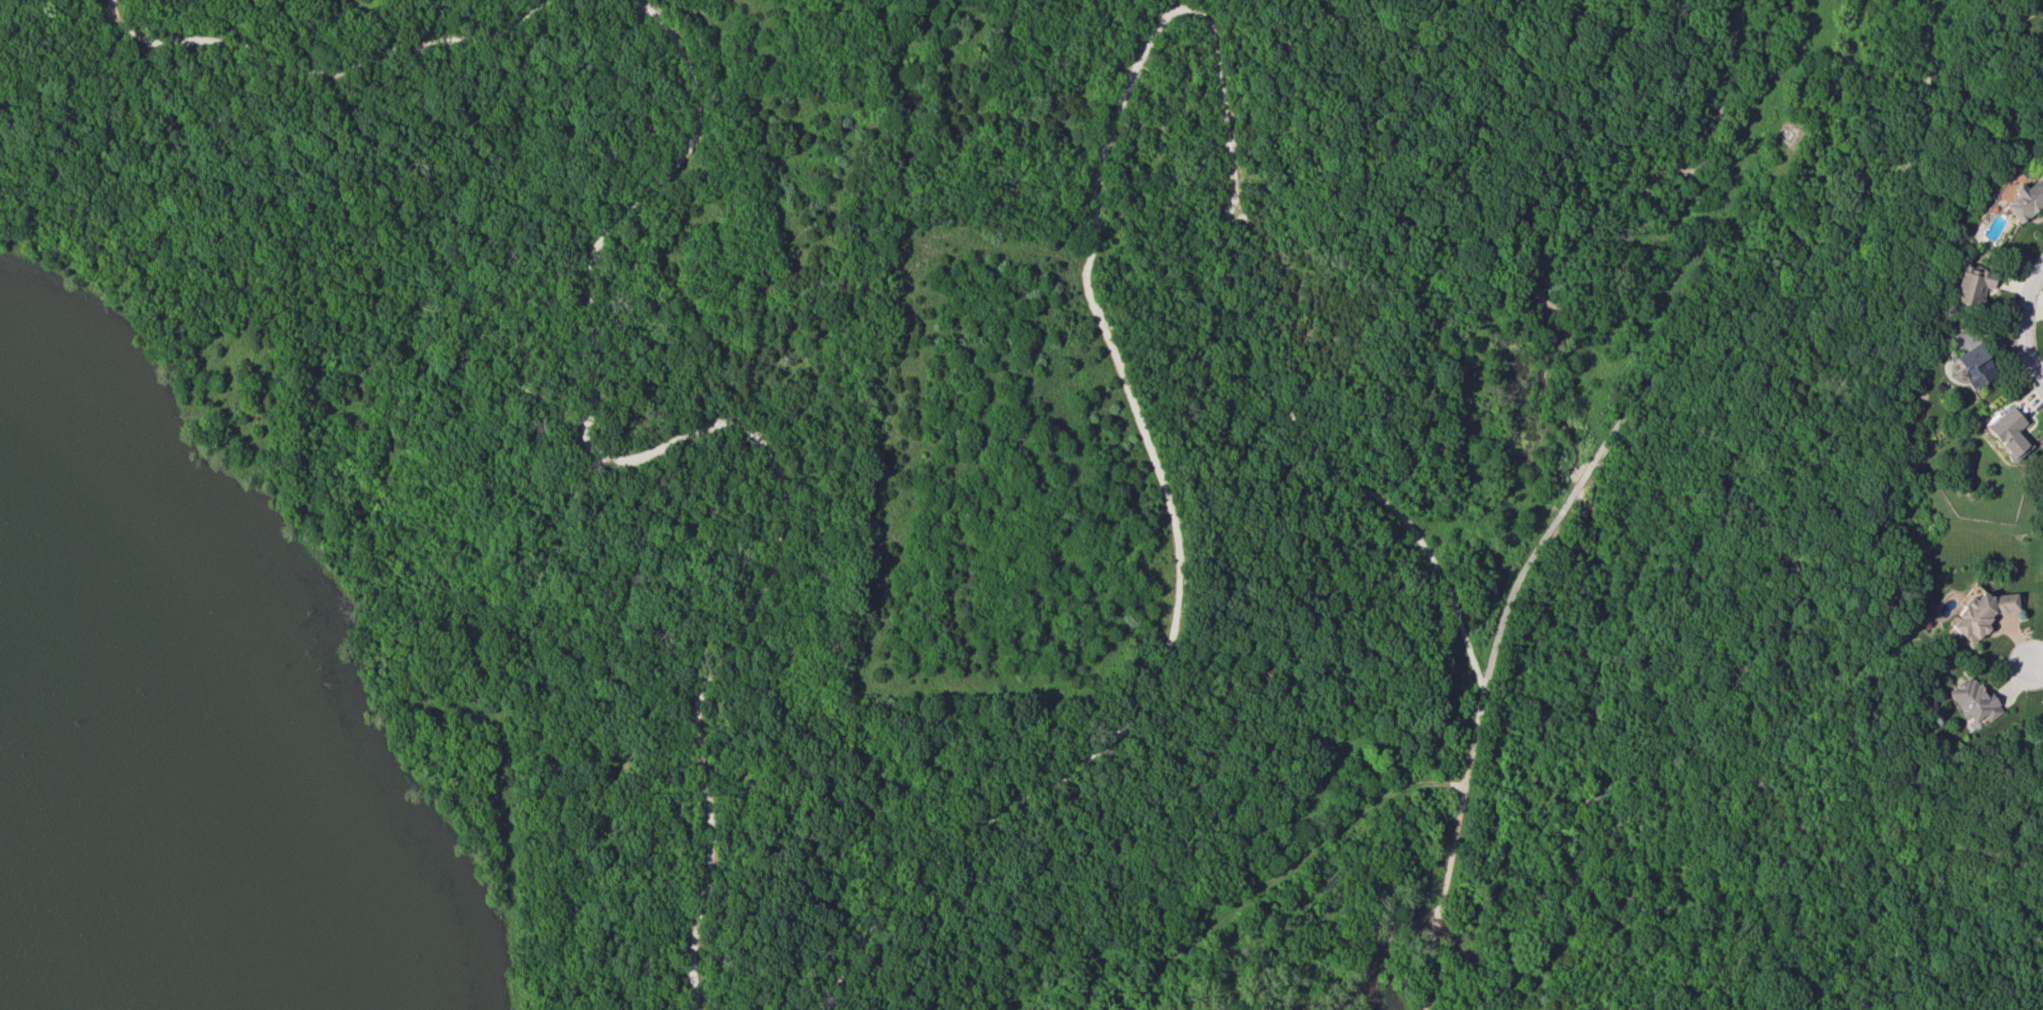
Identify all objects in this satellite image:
road: (320, 72)
road: (1095, 182)
road: (1769, 196)
building: (2025, 200)
building: (1992, 222)
building: (1972, 286)
road: (2028, 293)
road: (1702, 329)
road: (2027, 360)
building: (1974, 365)
road: (716, 425)
building: (2009, 432)
park: (931, 503)
road: (2038, 665)
building: (1971, 702)
building: (2038, 728)
road: (1460, 802)
road: (1276, 875)
road: (1431, 962)

